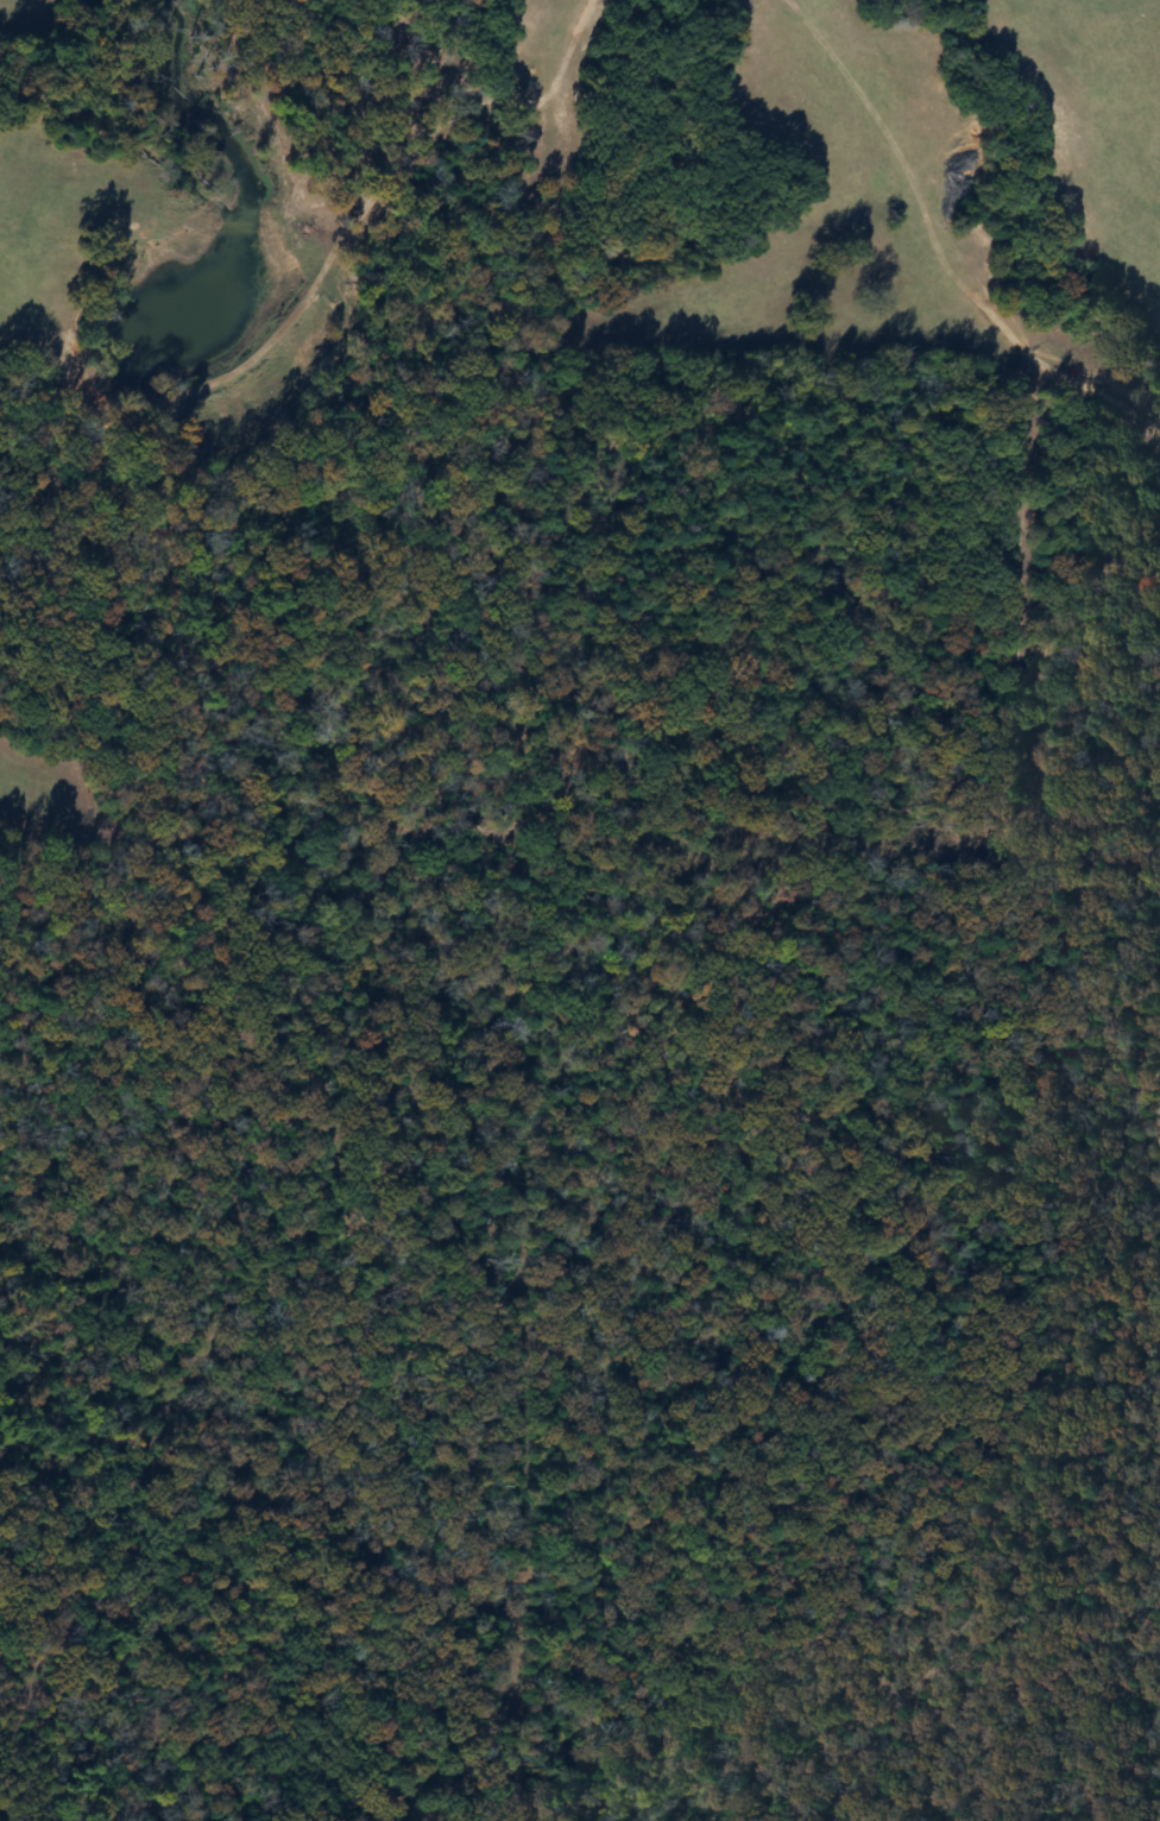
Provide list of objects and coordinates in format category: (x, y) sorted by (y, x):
road: (1061, 368)

